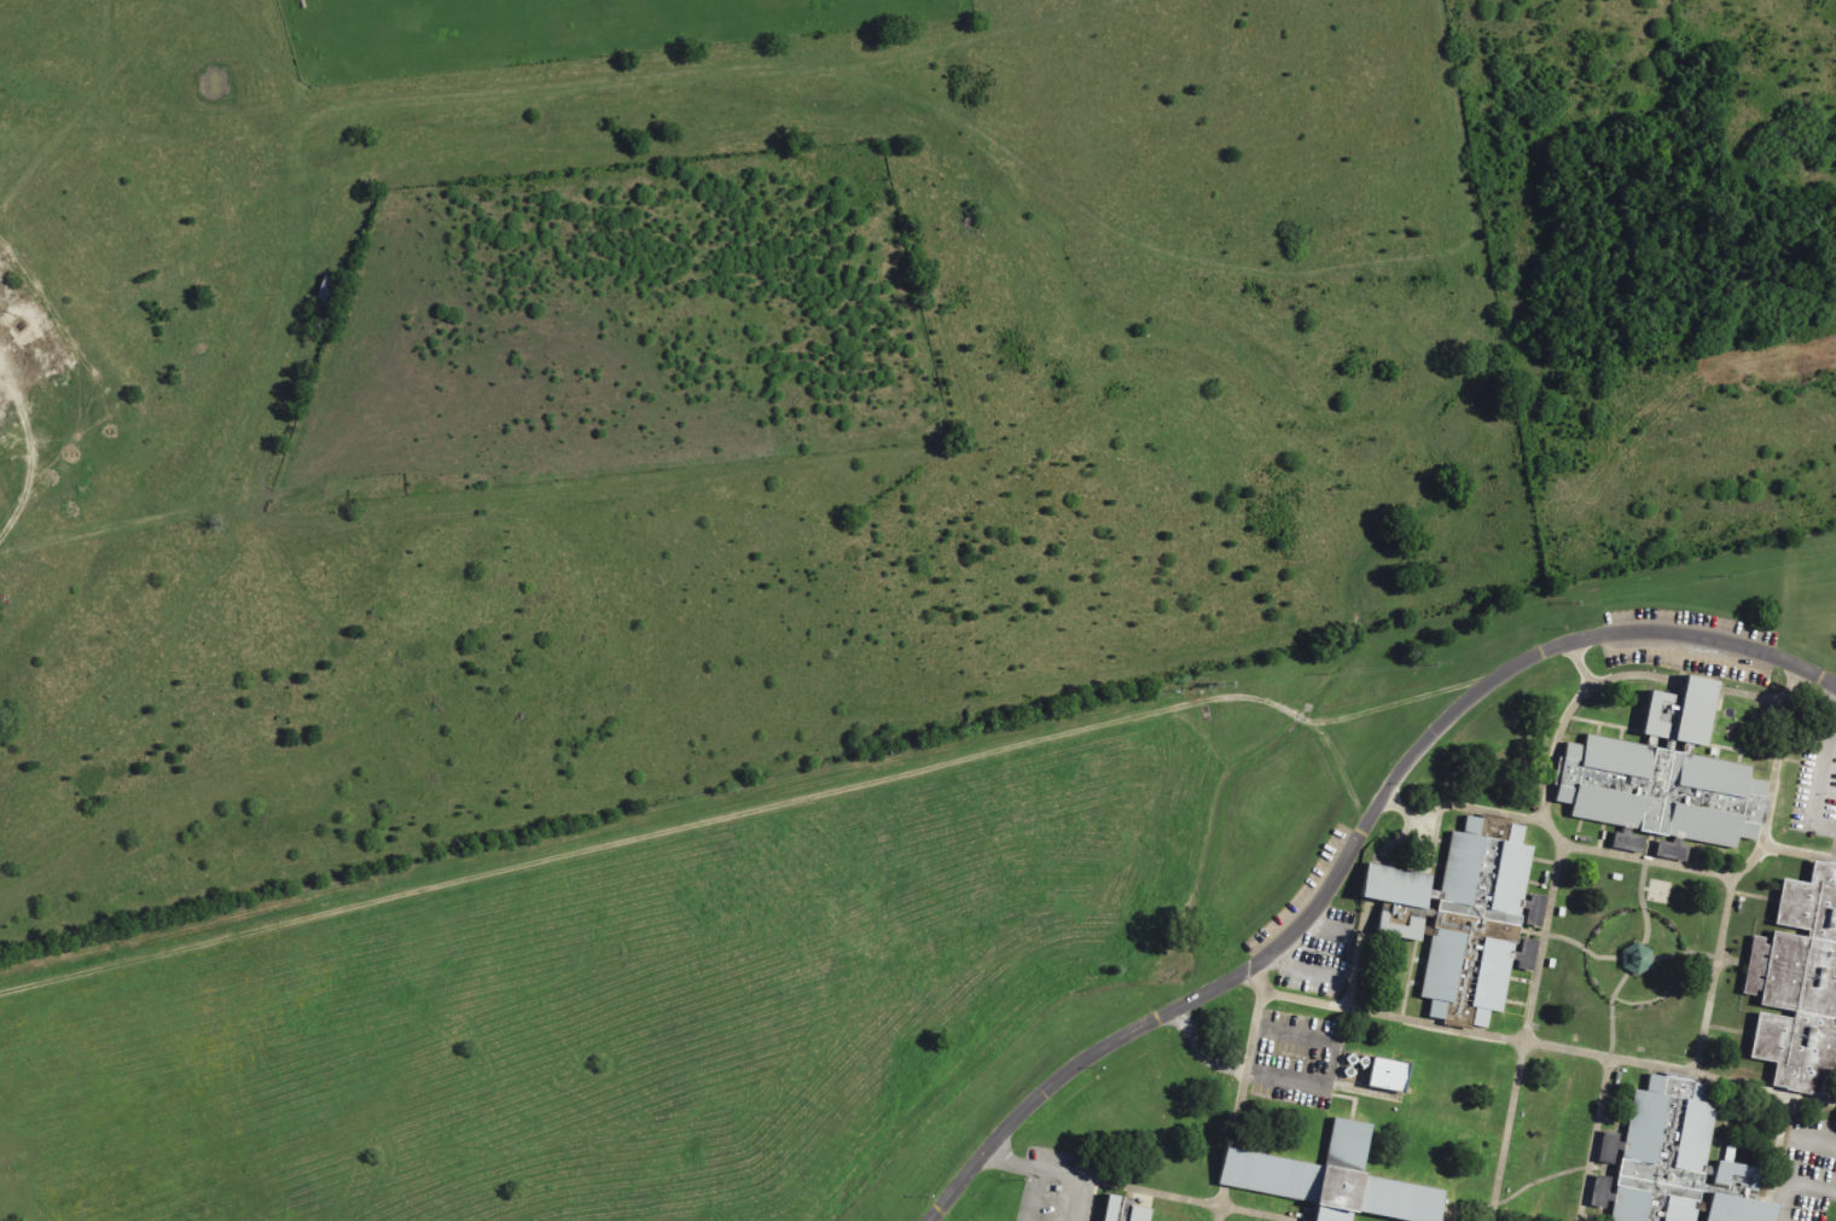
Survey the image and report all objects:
road: (35, 459)
road: (211, 500)
road: (1825, 764)
building: (1662, 775)
road: (740, 813)
road: (1358, 843)
road: (1701, 872)
building: (1491, 873)
building: (1394, 886)
road: (1639, 902)
building: (1456, 911)
building: (1404, 930)
road: (1545, 932)
road: (1580, 948)
road: (1683, 953)
building: (1635, 959)
building: (1440, 971)
building: (1495, 975)
road: (1710, 976)
building: (1796, 984)
road: (1526, 1045)
building: (1388, 1074)
road: (1598, 1095)
building: (1607, 1147)
building: (1674, 1162)
road: (1038, 1170)
building: (1332, 1179)
road: (1189, 1200)
building: (1121, 1209)
road: (1216, 1214)

